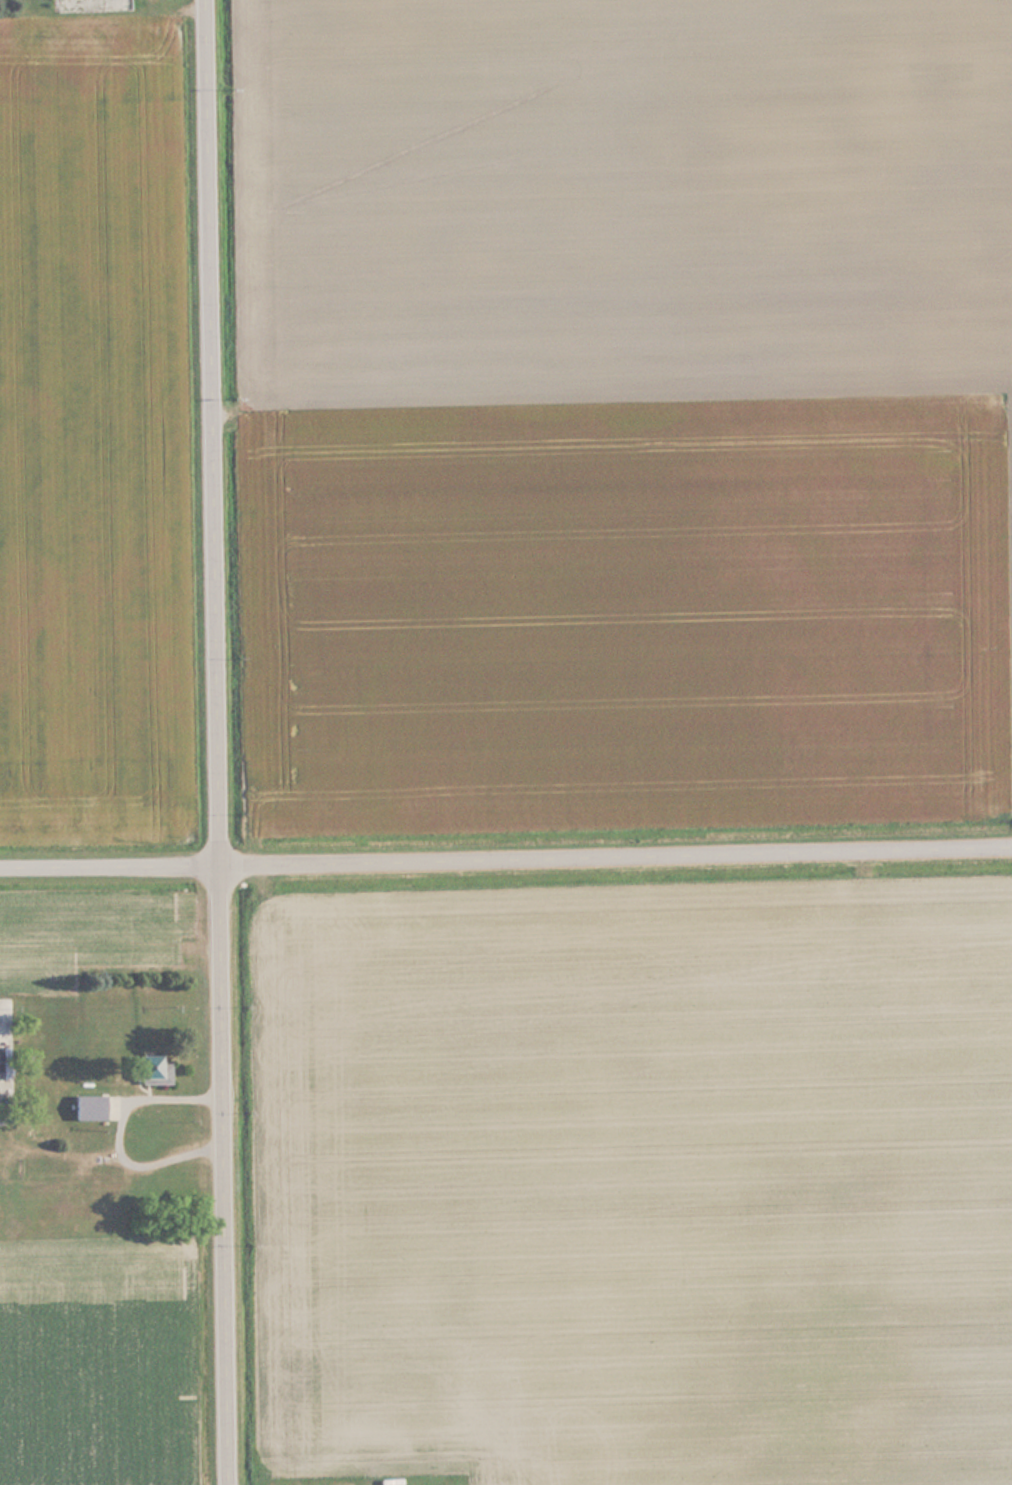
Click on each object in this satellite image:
road: (218, 742)
road: (506, 852)
building: (150, 1070)
building: (87, 1107)

